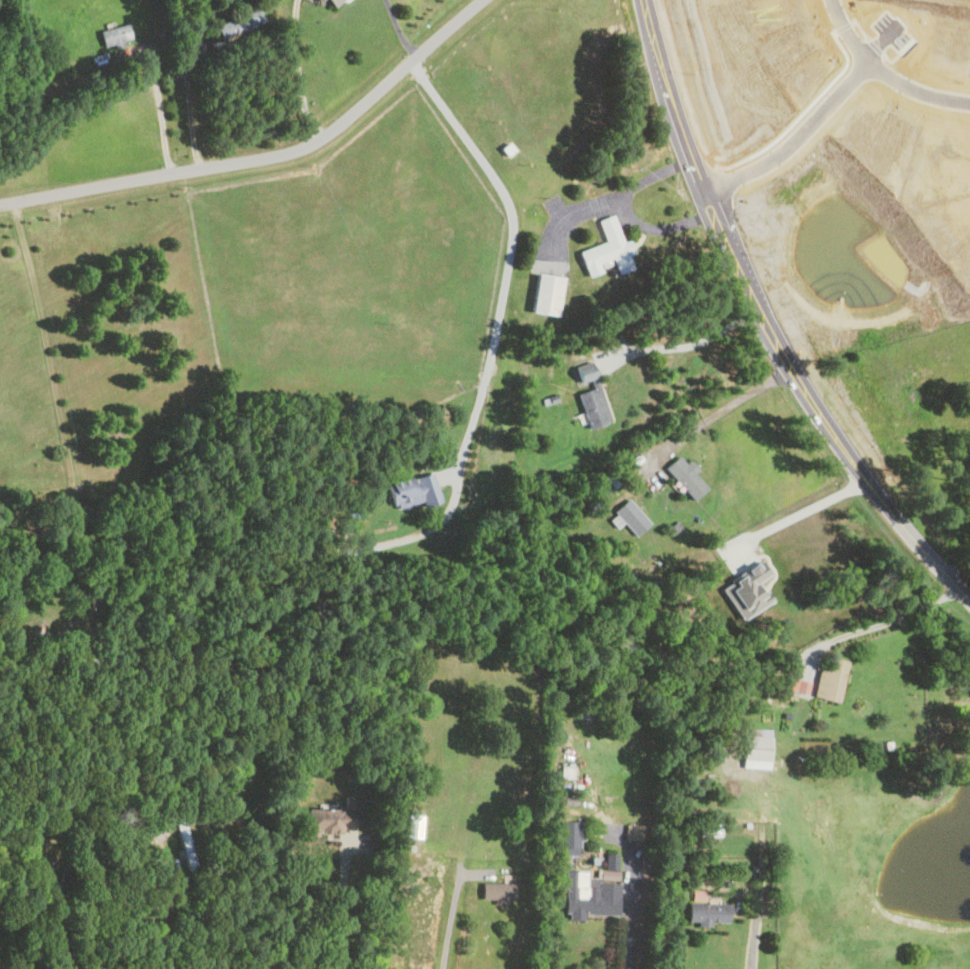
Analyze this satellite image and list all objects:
building: (334, 2)
building: (239, 24)
road: (400, 30)
road: (846, 30)
building: (115, 35)
road: (299, 70)
road: (829, 95)
road: (160, 106)
road: (271, 155)
road: (625, 210)
road: (571, 211)
building: (607, 249)
road: (503, 261)
building: (545, 294)
road: (761, 322)
road: (682, 346)
building: (591, 396)
road: (710, 416)
building: (685, 477)
building: (413, 490)
road: (805, 509)
building: (631, 517)
road: (957, 563)
road: (880, 623)
building: (829, 680)
building: (796, 685)
building: (586, 711)
building: (755, 748)
building: (330, 819)
building: (414, 824)
building: (569, 837)
building: (68, 874)
building: (496, 891)
building: (589, 896)
road: (167, 903)
road: (341, 906)
building: (708, 913)
road: (452, 920)
road: (627, 924)
building: (0, 932)
road: (59, 933)
road: (755, 938)

